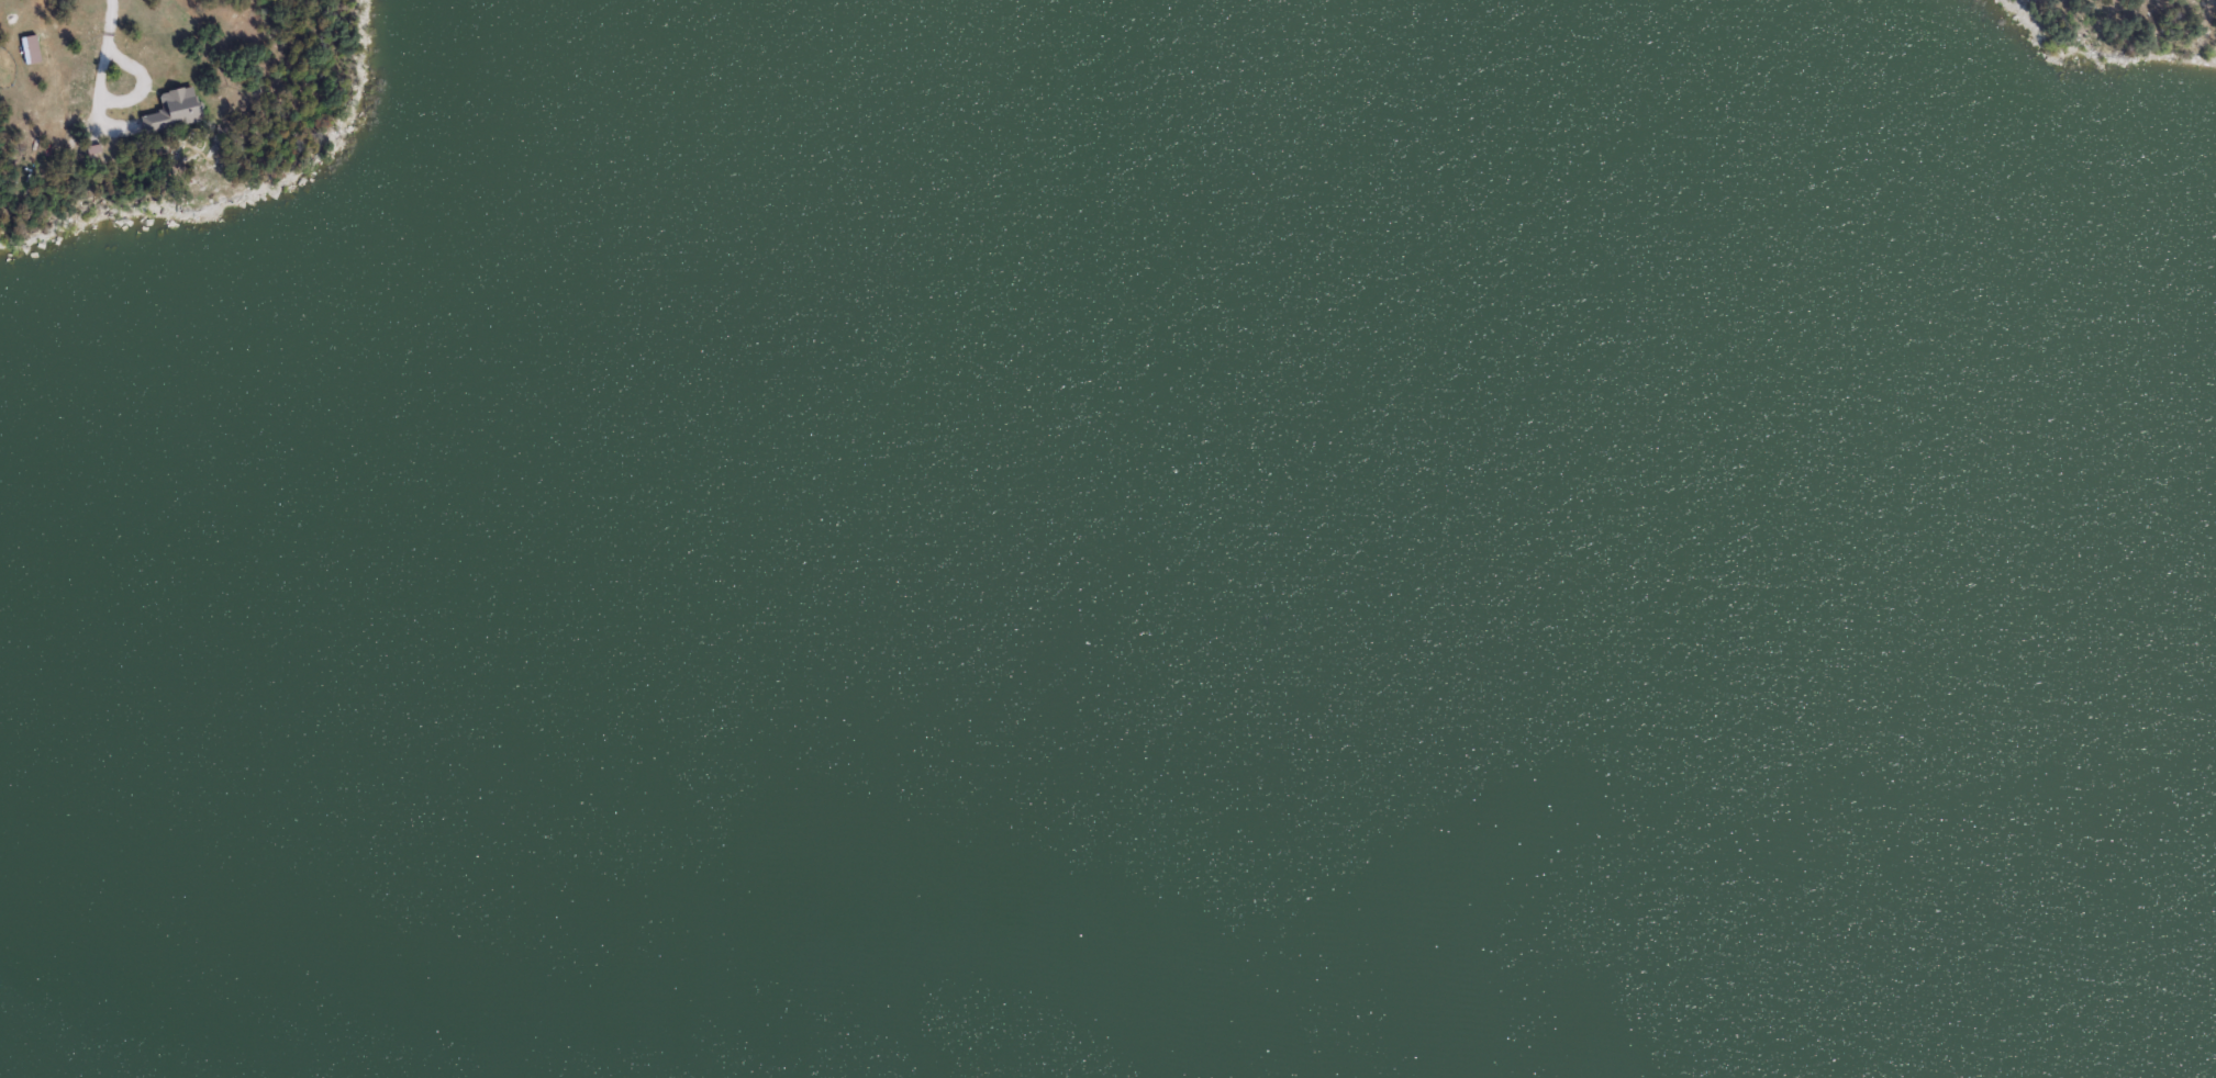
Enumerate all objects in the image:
road: (108, 23)
road: (127, 98)
building: (172, 109)

